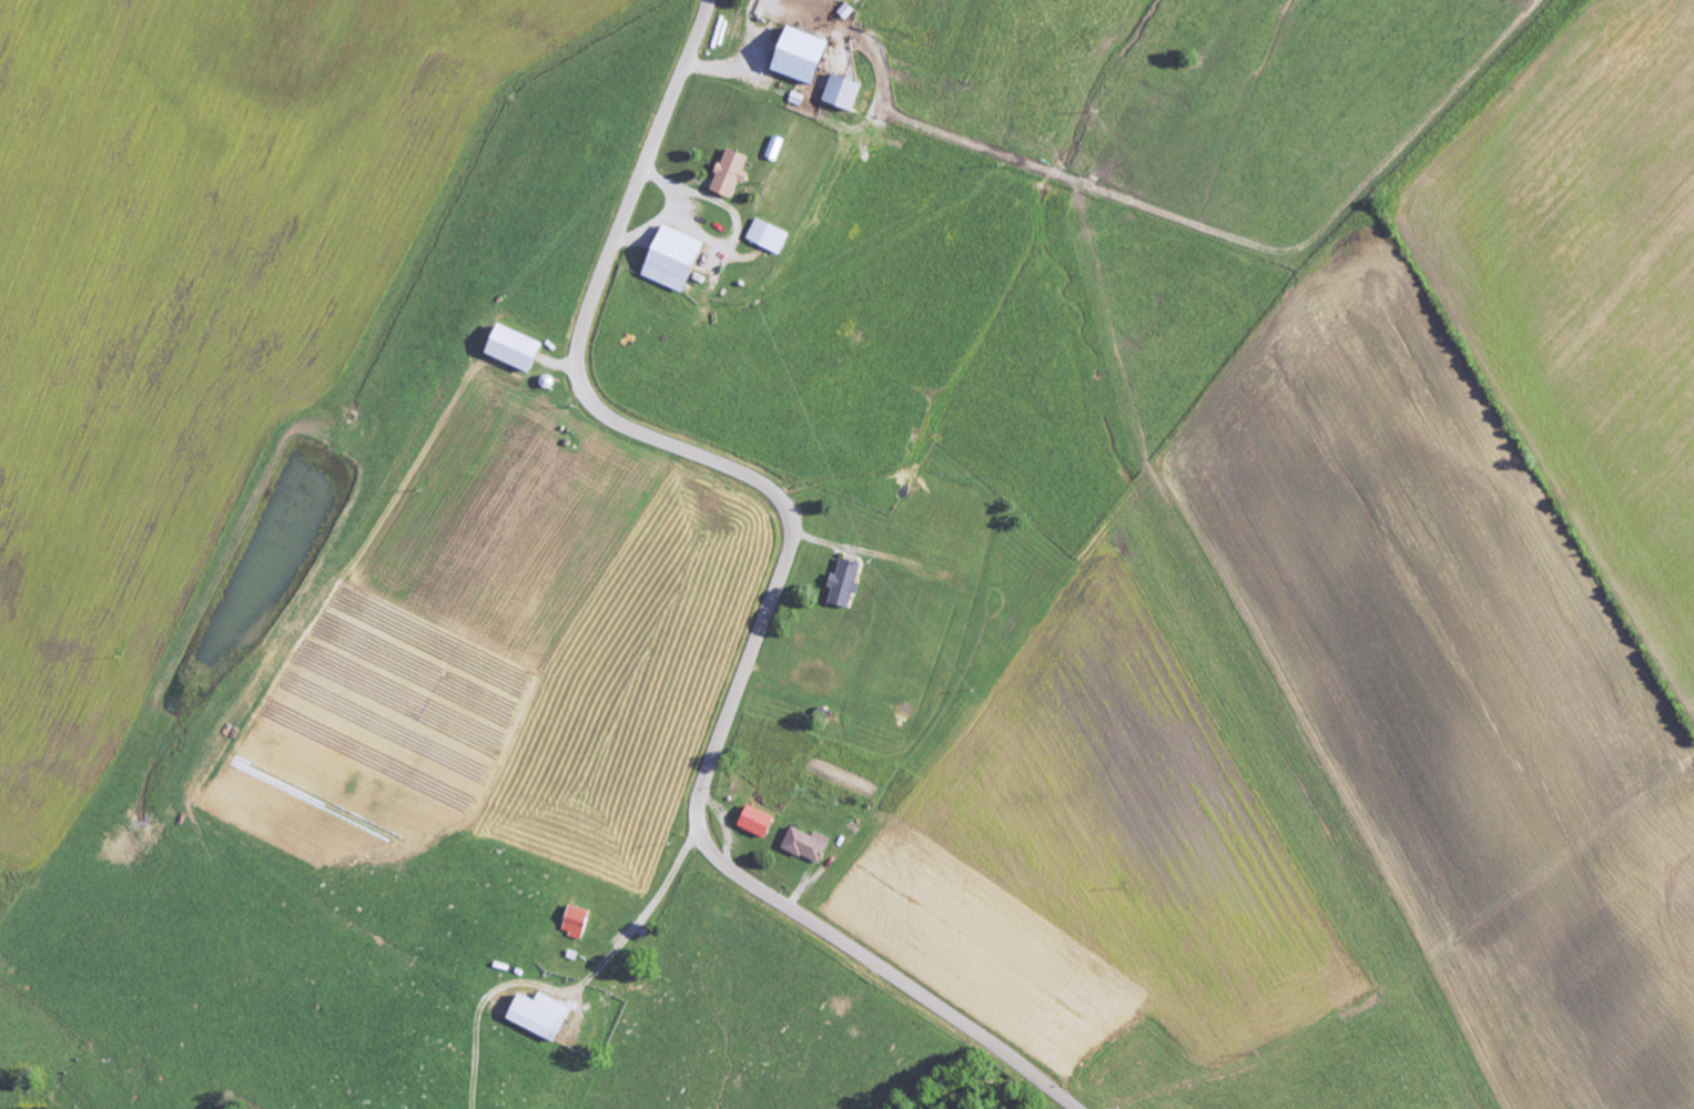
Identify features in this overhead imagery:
building: (805, 55)
building: (845, 92)
building: (777, 147)
building: (732, 173)
building: (770, 236)
building: (676, 258)
building: (517, 348)
building: (846, 583)
road: (778, 584)
building: (759, 822)
building: (809, 845)
building: (578, 922)
building: (545, 1016)

